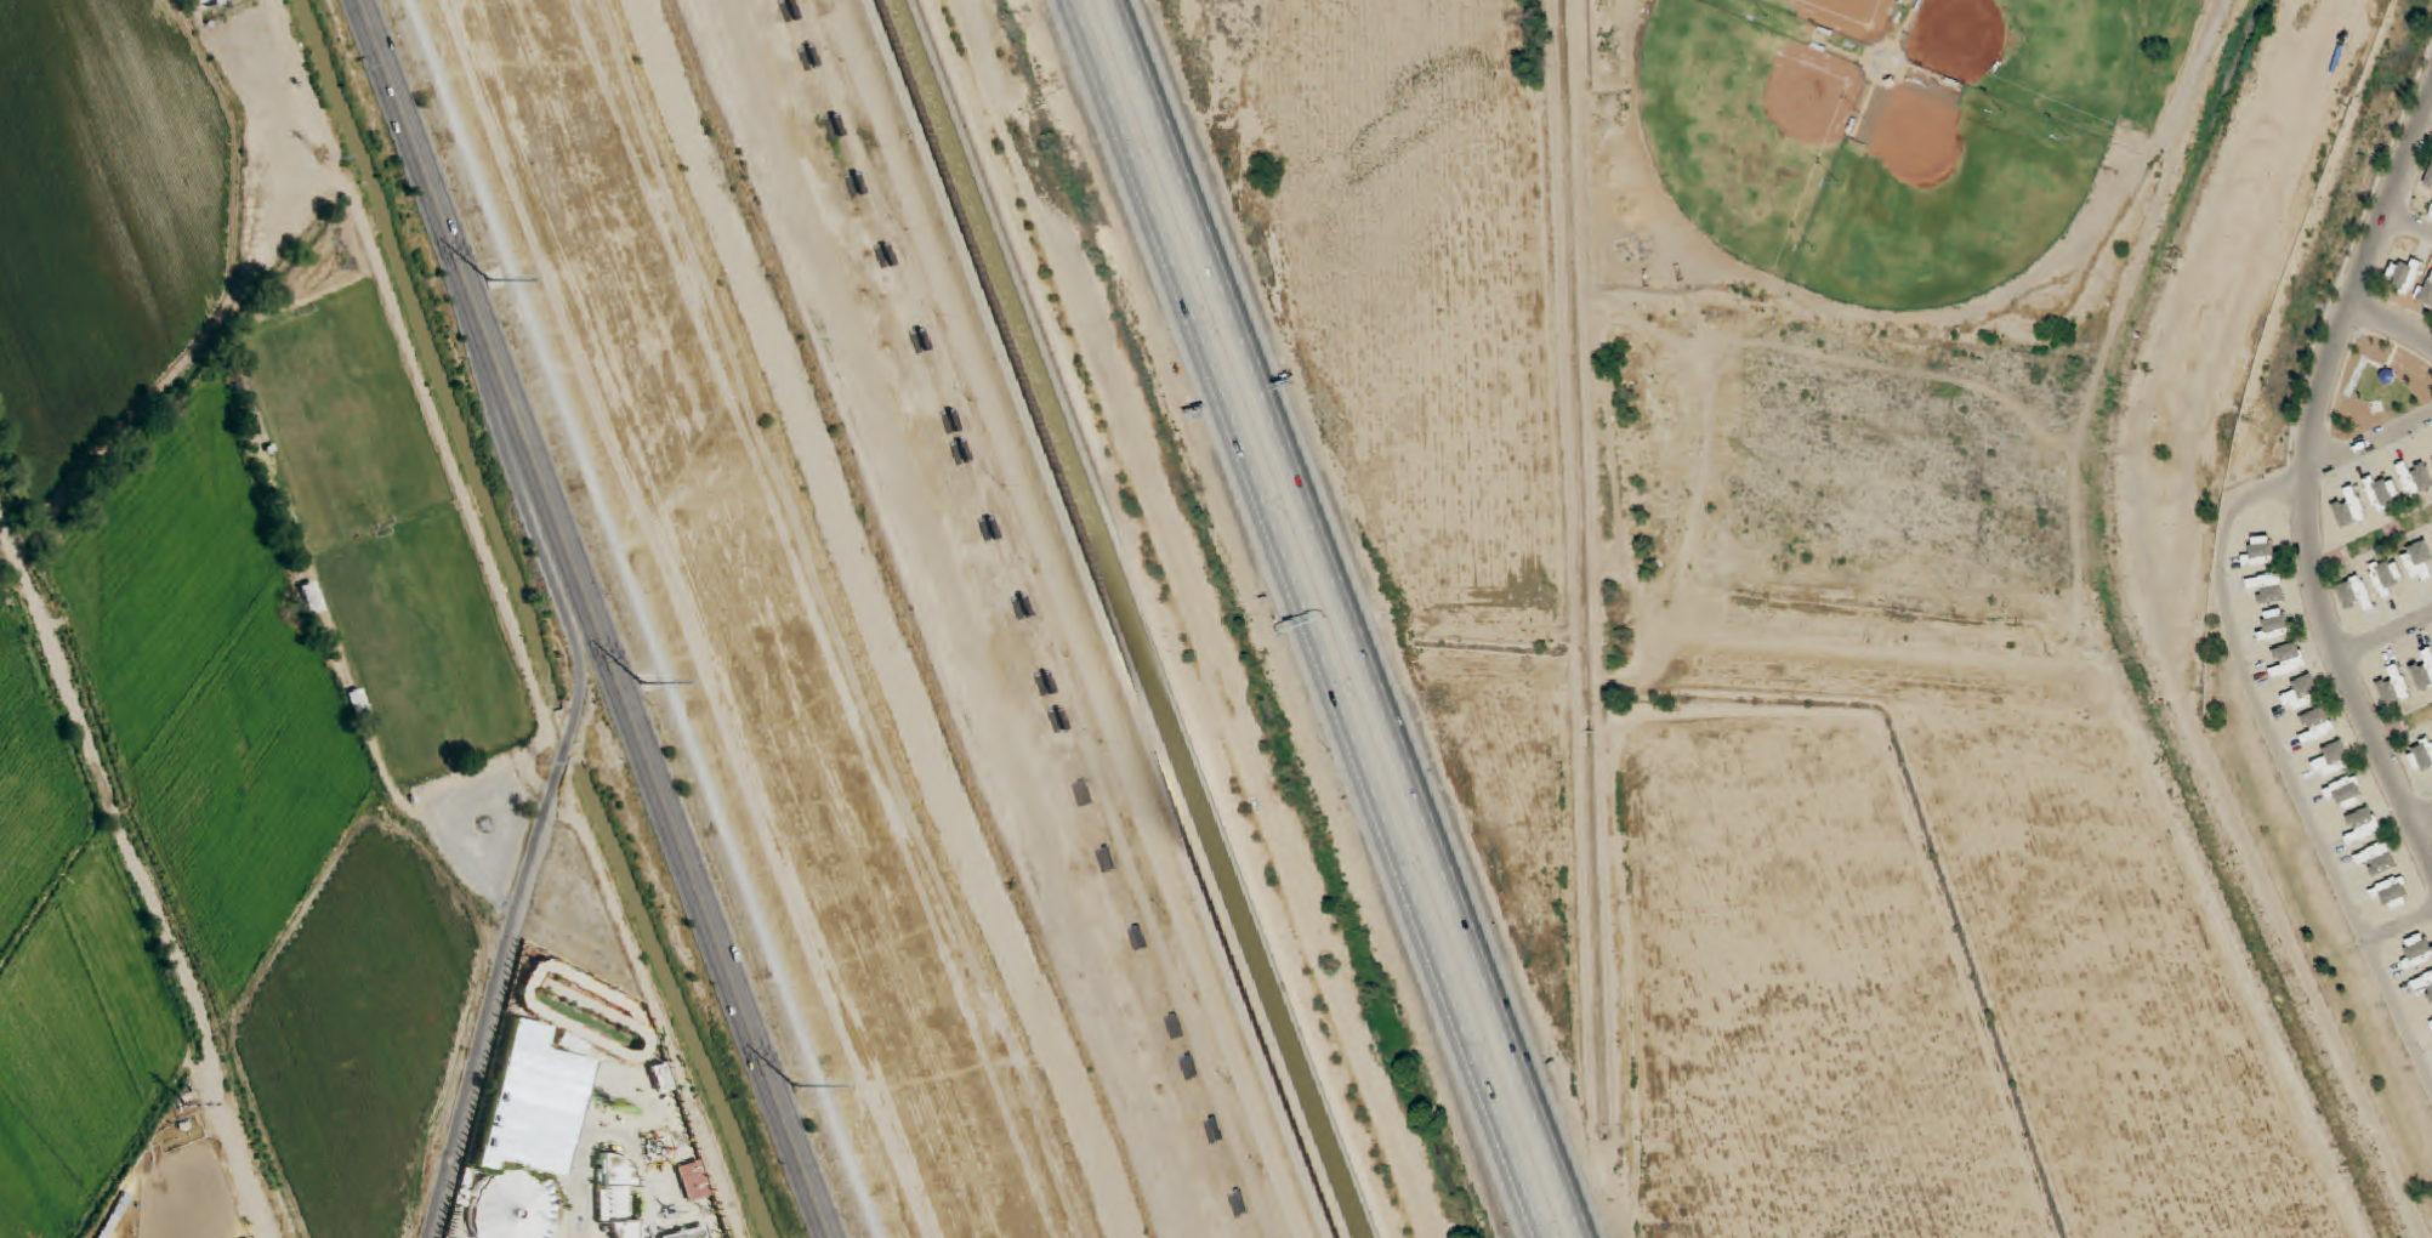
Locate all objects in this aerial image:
park: (1845, 16)
park: (2033, 55)
park: (1744, 125)
park: (1882, 158)
building: (2428, 178)
park: (1948, 205)
road: (2407, 221)
crop: (102, 222)
building: (2404, 276)
power tower: (488, 280)
building: (2427, 293)
road: (2391, 322)
road: (2370, 441)
road: (2307, 475)
building: (2414, 478)
building: (2383, 493)
road: (459, 496)
building: (2351, 509)
park: (385, 515)
building: (2261, 552)
building: (2419, 561)
building: (2386, 575)
building: (2268, 586)
building: (2356, 592)
road: (558, 600)
road: (1351, 618)
road: (592, 619)
road: (623, 619)
road: (1305, 619)
river: (877, 620)
building: (2277, 624)
road: (2383, 632)
building: (2289, 660)
building: (2425, 670)
crop: (206, 671)
power tower: (641, 680)
building: (2394, 687)
building: (2302, 693)
building: (2317, 726)
building: (2421, 756)
building: (2332, 760)
road: (2284, 762)
crop: (33, 786)
road: (540, 786)
building: (2347, 791)
road: (2422, 817)
building: (2363, 827)
road: (499, 837)
building: (2376, 858)
road: (142, 880)
road: (2398, 924)
building: (2419, 950)
building: (2424, 983)
road: (488, 1023)
crop: (366, 1035)
building: (570, 1049)
crop: (83, 1055)
power tower: (794, 1084)
road: (604, 1135)
building: (506, 1209)

